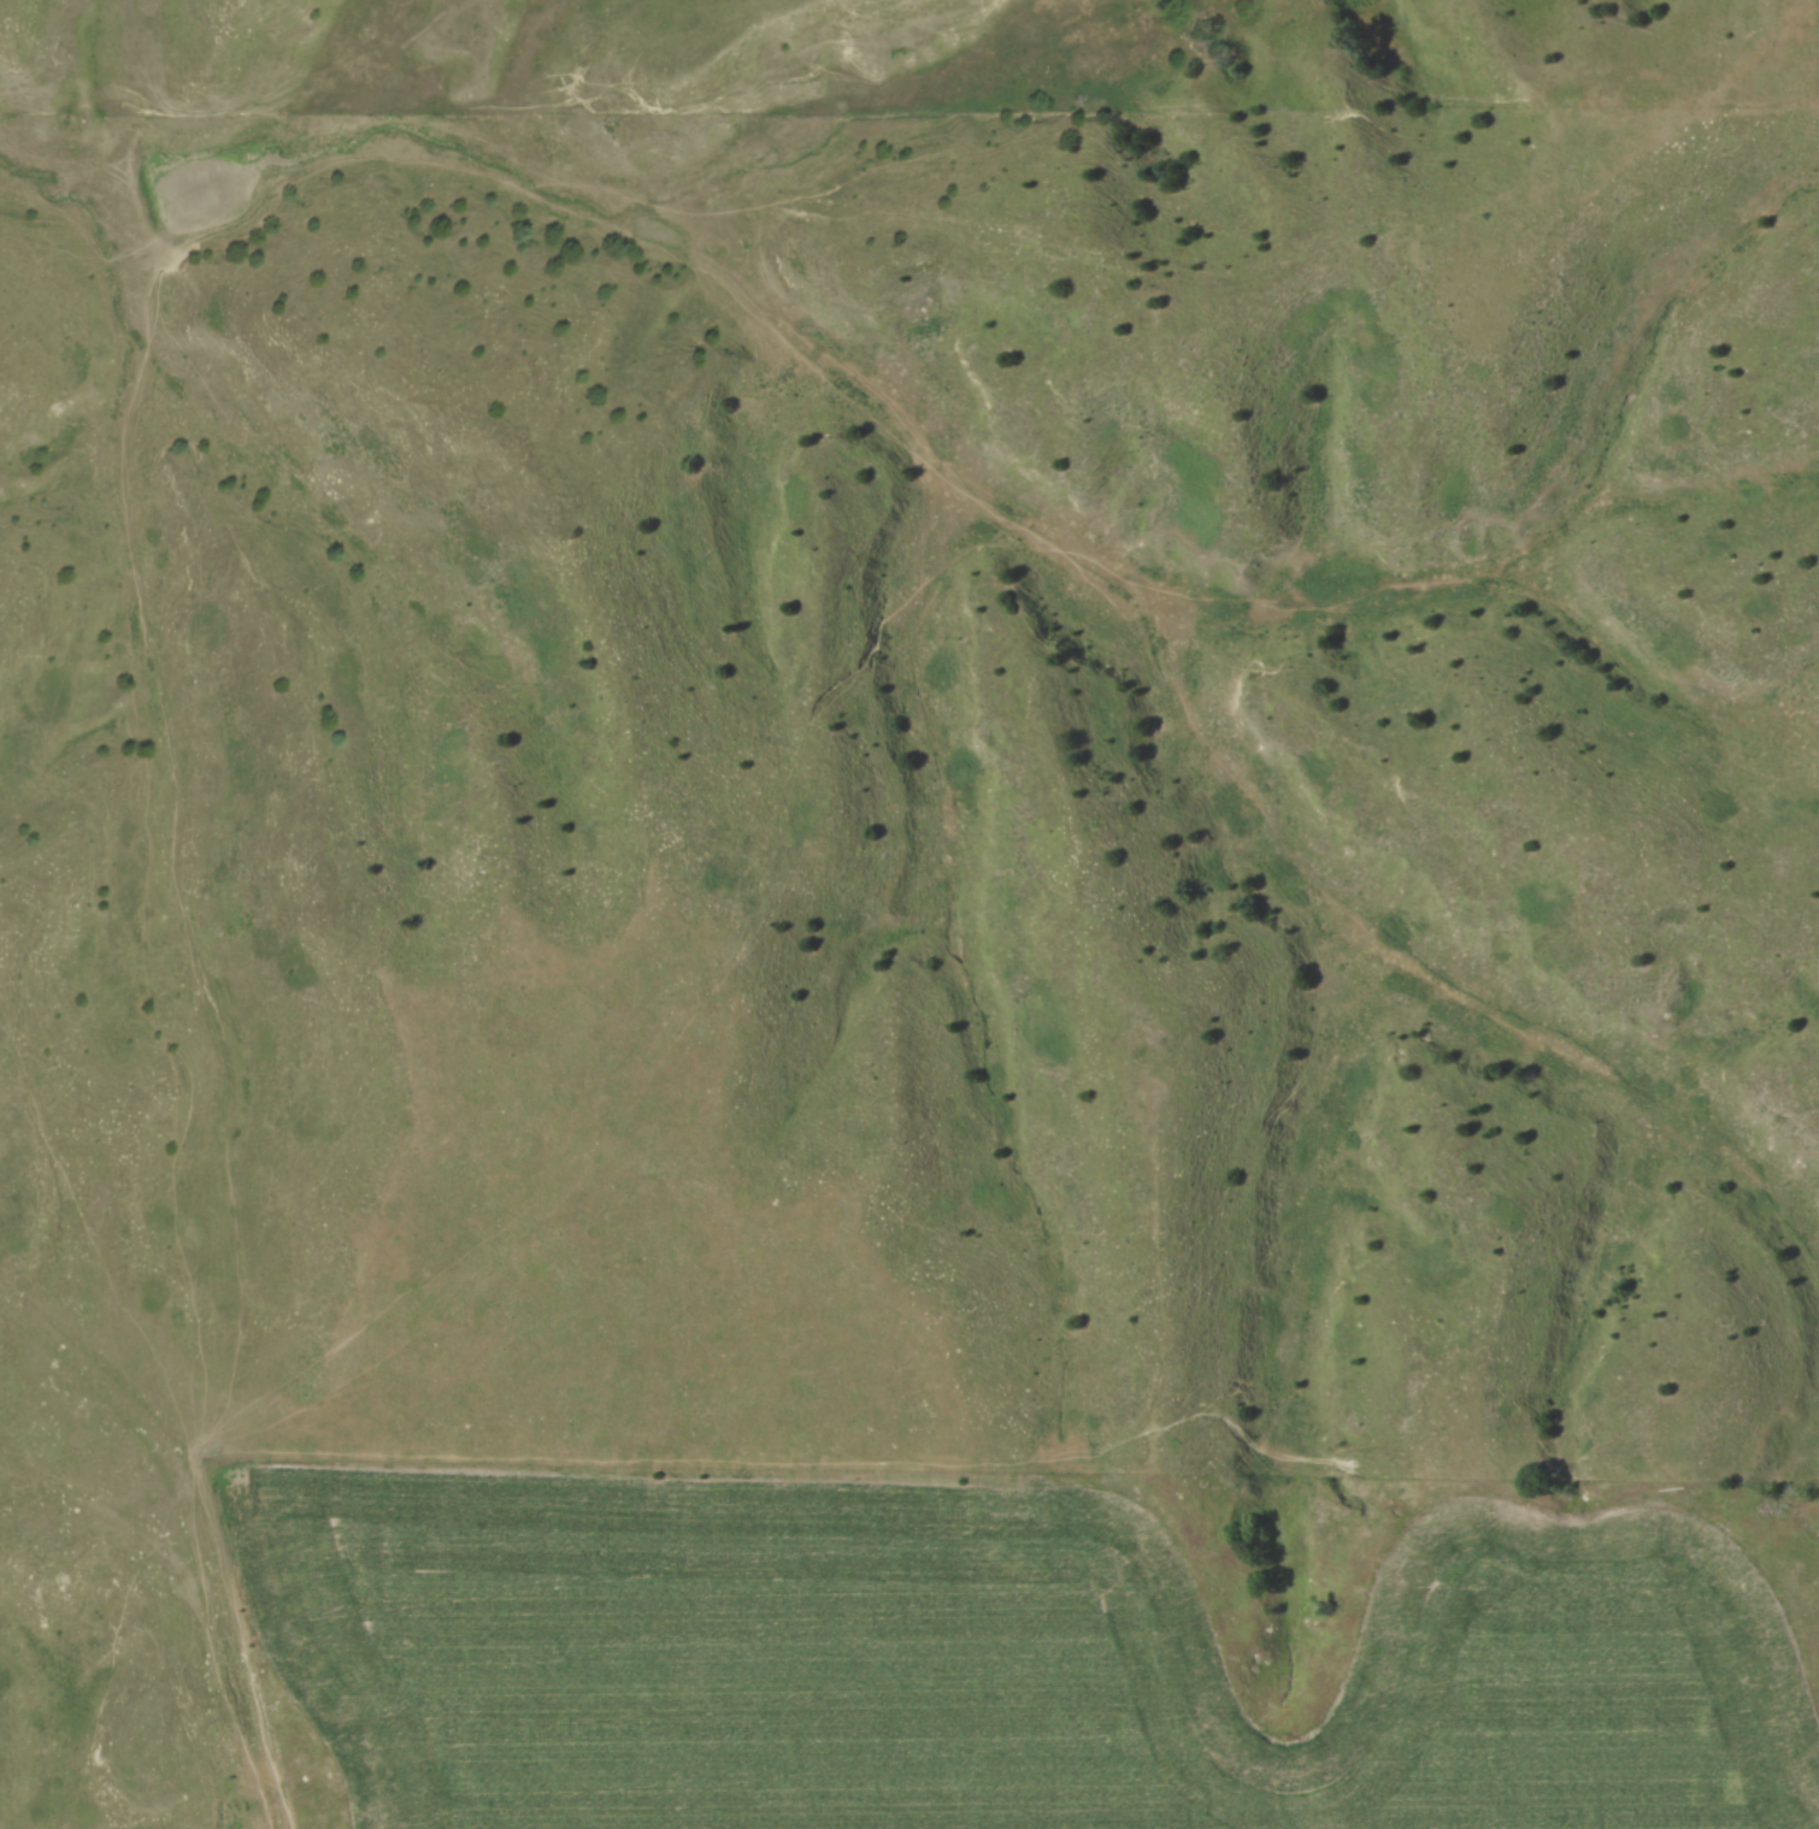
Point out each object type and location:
crop: (995, 1663)

